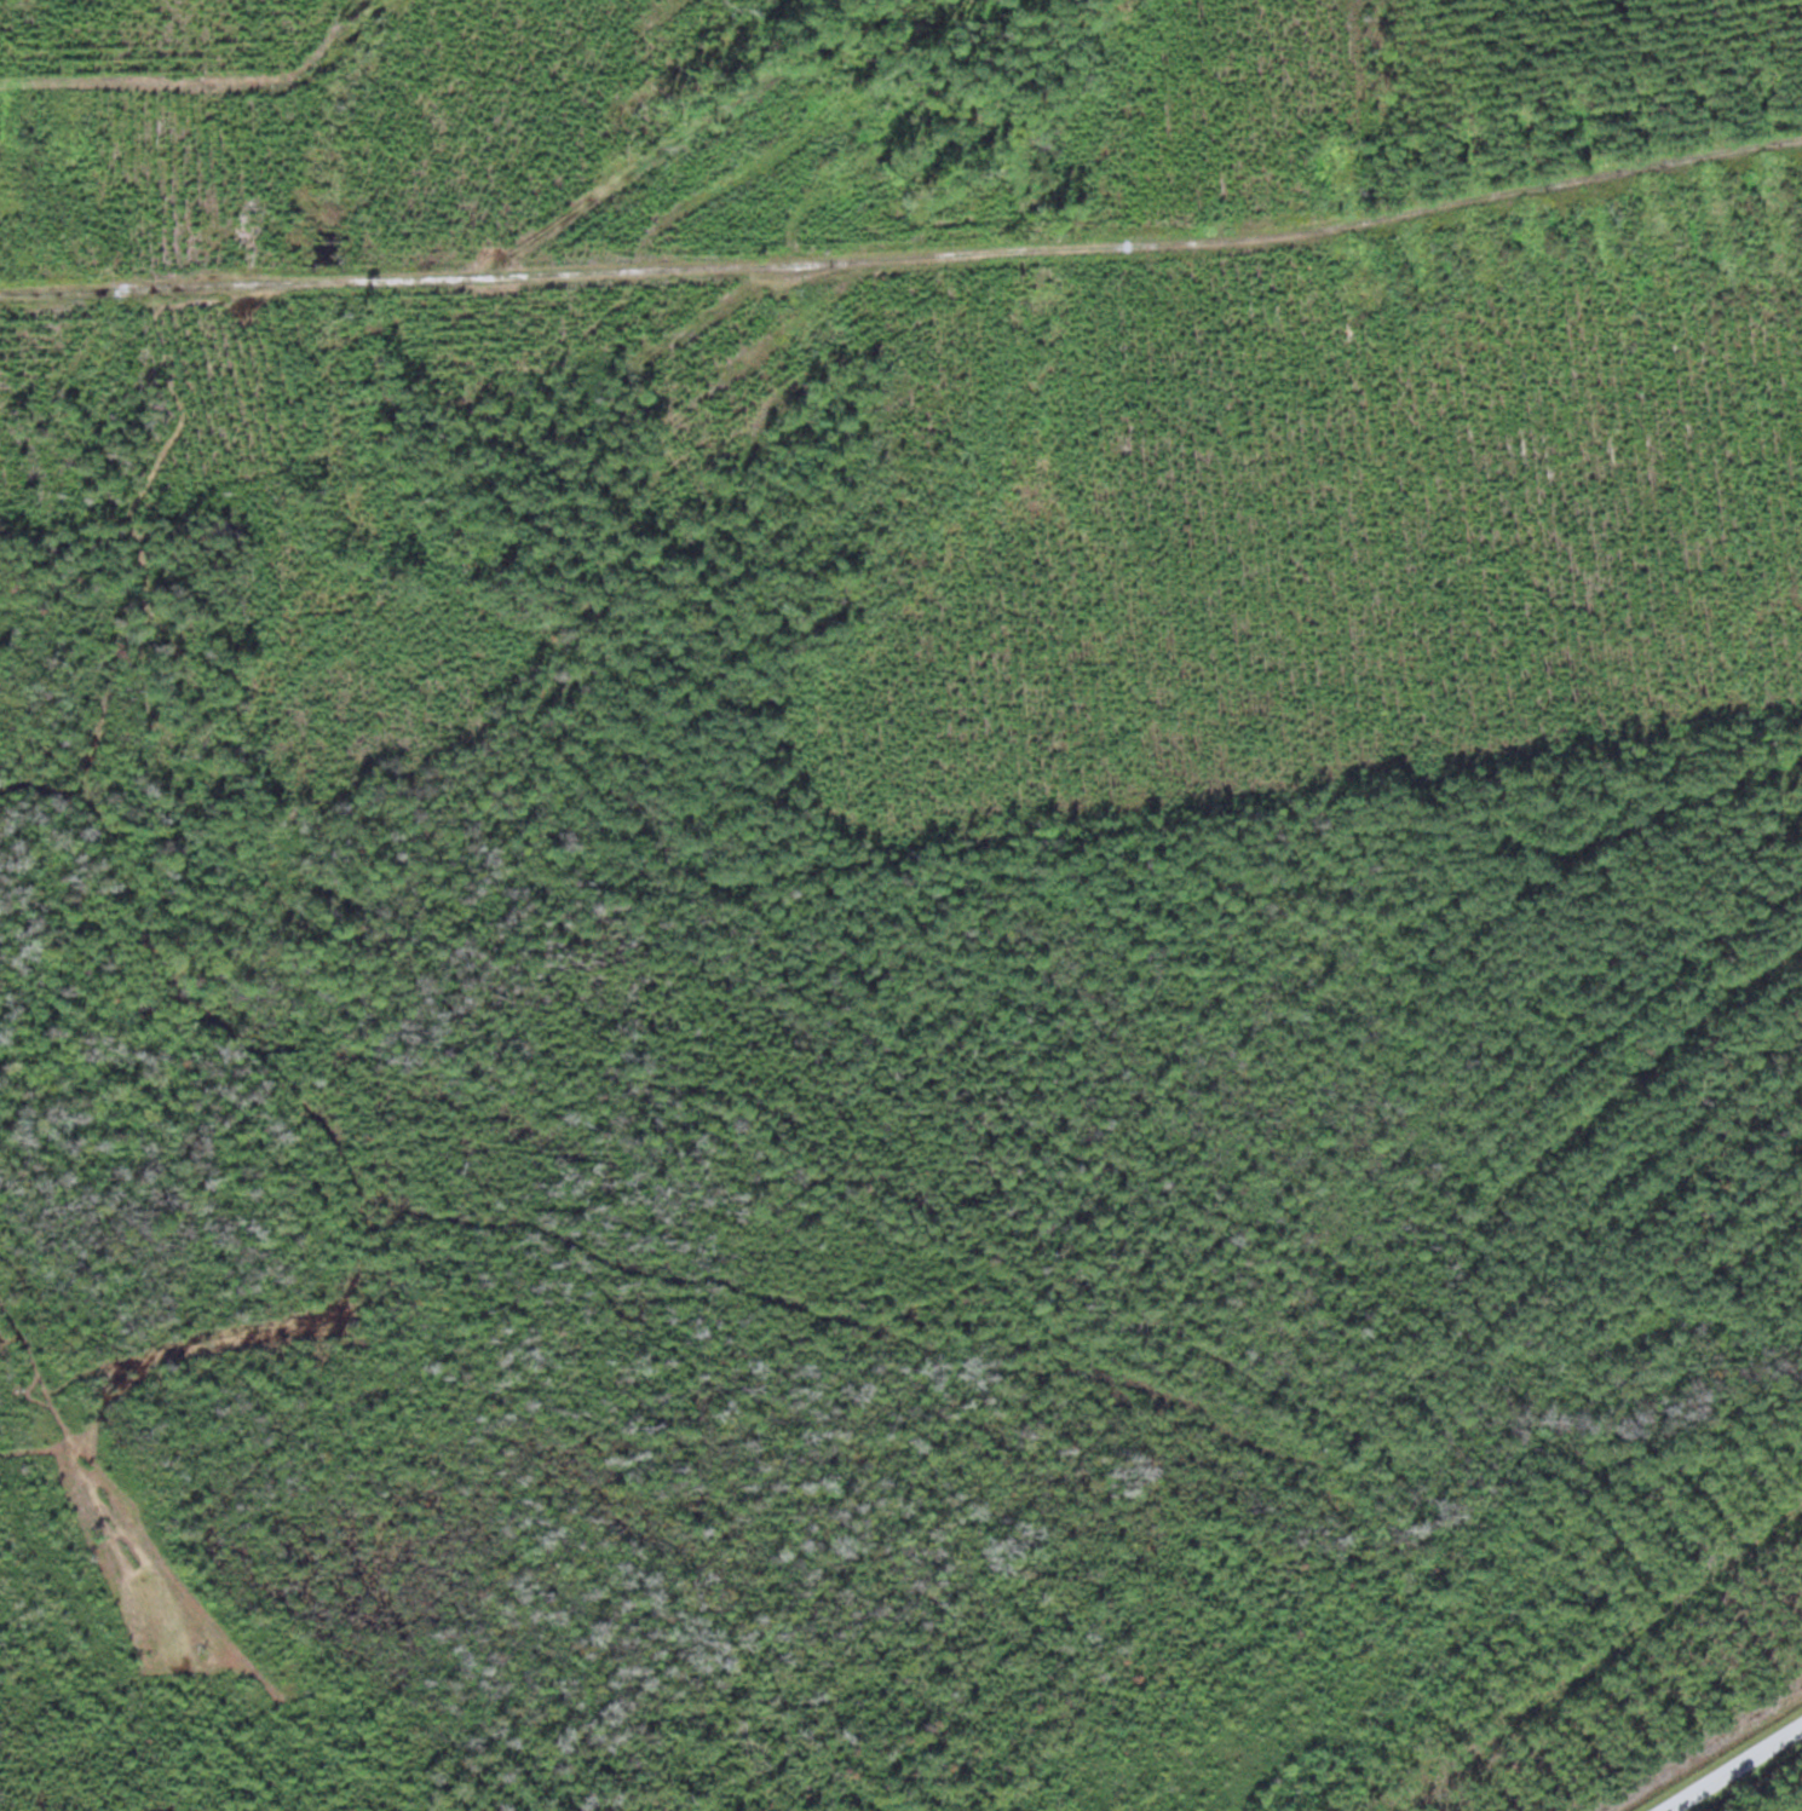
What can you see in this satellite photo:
road: (904, 244)
road: (1716, 1753)

